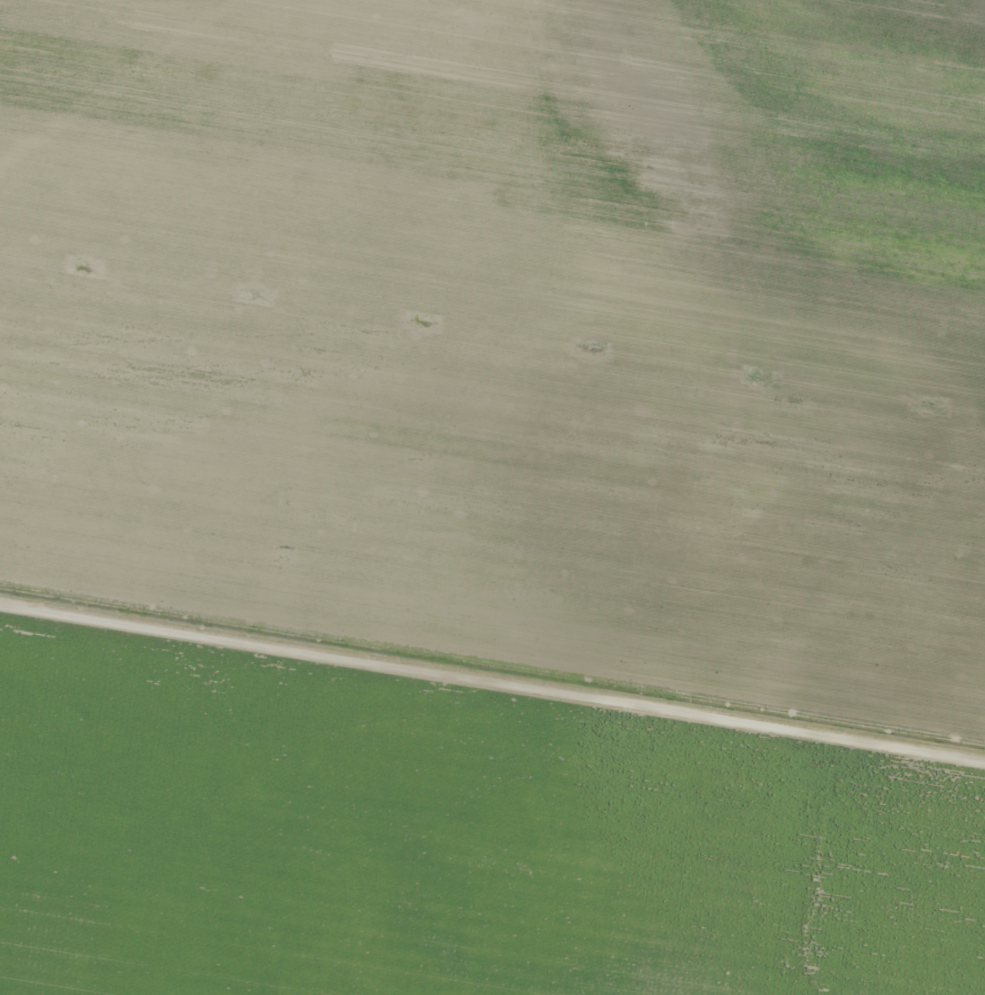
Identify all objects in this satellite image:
road: (492, 684)

